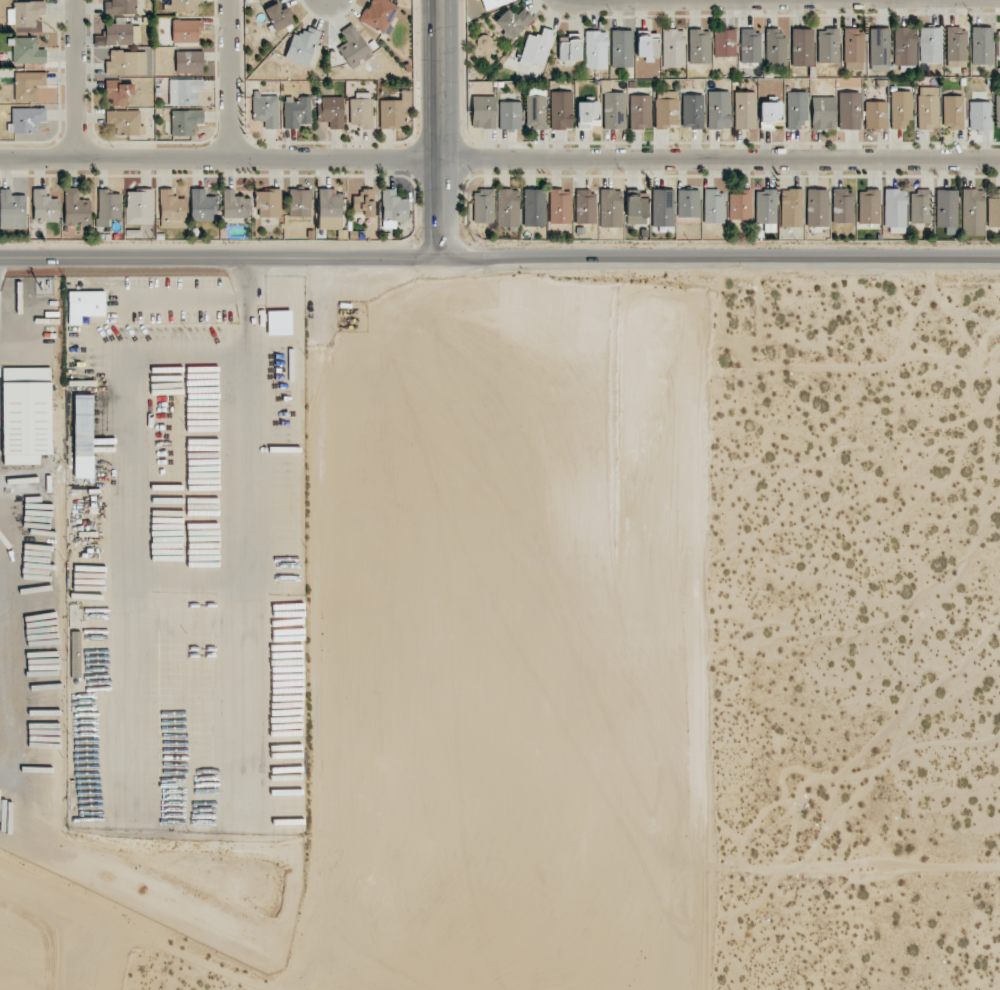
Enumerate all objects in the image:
building: (494, 3)
building: (120, 7)
building: (28, 13)
building: (379, 14)
building: (278, 17)
building: (513, 22)
building: (186, 30)
building: (122, 33)
building: (998, 41)
building: (724, 42)
building: (647, 44)
building: (828, 45)
building: (905, 45)
building: (931, 45)
building: (982, 45)
building: (302, 46)
building: (699, 46)
building: (750, 46)
building: (354, 47)
building: (775, 47)
building: (802, 47)
building: (956, 47)
building: (621, 48)
building: (673, 48)
building: (853, 48)
building: (536, 49)
building: (596, 49)
building: (880, 49)
building: (569, 50)
building: (27, 51)
building: (189, 61)
building: (126, 63)
road: (78, 79)
road: (233, 79)
building: (28, 85)
building: (184, 91)
building: (119, 92)
building: (406, 97)
building: (928, 108)
building: (666, 109)
building: (901, 109)
building: (265, 110)
building: (561, 110)
building: (614, 110)
building: (718, 110)
building: (744, 110)
building: (796, 110)
building: (849, 110)
building: (331, 111)
building: (361, 111)
building: (692, 111)
building: (997, 111)
building: (296, 112)
building: (483, 112)
building: (535, 112)
building: (640, 112)
building: (952, 112)
building: (771, 113)
building: (823, 113)
building: (391, 114)
building: (588, 114)
building: (509, 115)
building: (875, 115)
building: (980, 115)
building: (26, 119)
building: (125, 121)
building: (185, 121)
road: (434, 130)
road: (499, 160)
building: (364, 202)
building: (268, 203)
building: (299, 203)
building: (688, 203)
building: (740, 204)
building: (108, 205)
building: (202, 205)
building: (235, 205)
building: (45, 206)
building: (171, 206)
building: (483, 206)
building: (559, 206)
building: (713, 206)
building: (766, 206)
building: (842, 206)
building: (868, 206)
building: (139, 207)
building: (534, 207)
building: (585, 207)
building: (920, 207)
building: (76, 208)
building: (393, 208)
building: (507, 208)
building: (610, 208)
building: (663, 208)
building: (791, 208)
building: (817, 208)
building: (946, 208)
building: (993, 208)
building: (330, 209)
building: (12, 210)
building: (637, 210)
building: (895, 211)
building: (972, 212)
road: (499, 260)
building: (85, 306)
building: (279, 322)
building: (26, 414)
building: (83, 436)
road: (320, 437)
road: (177, 584)

